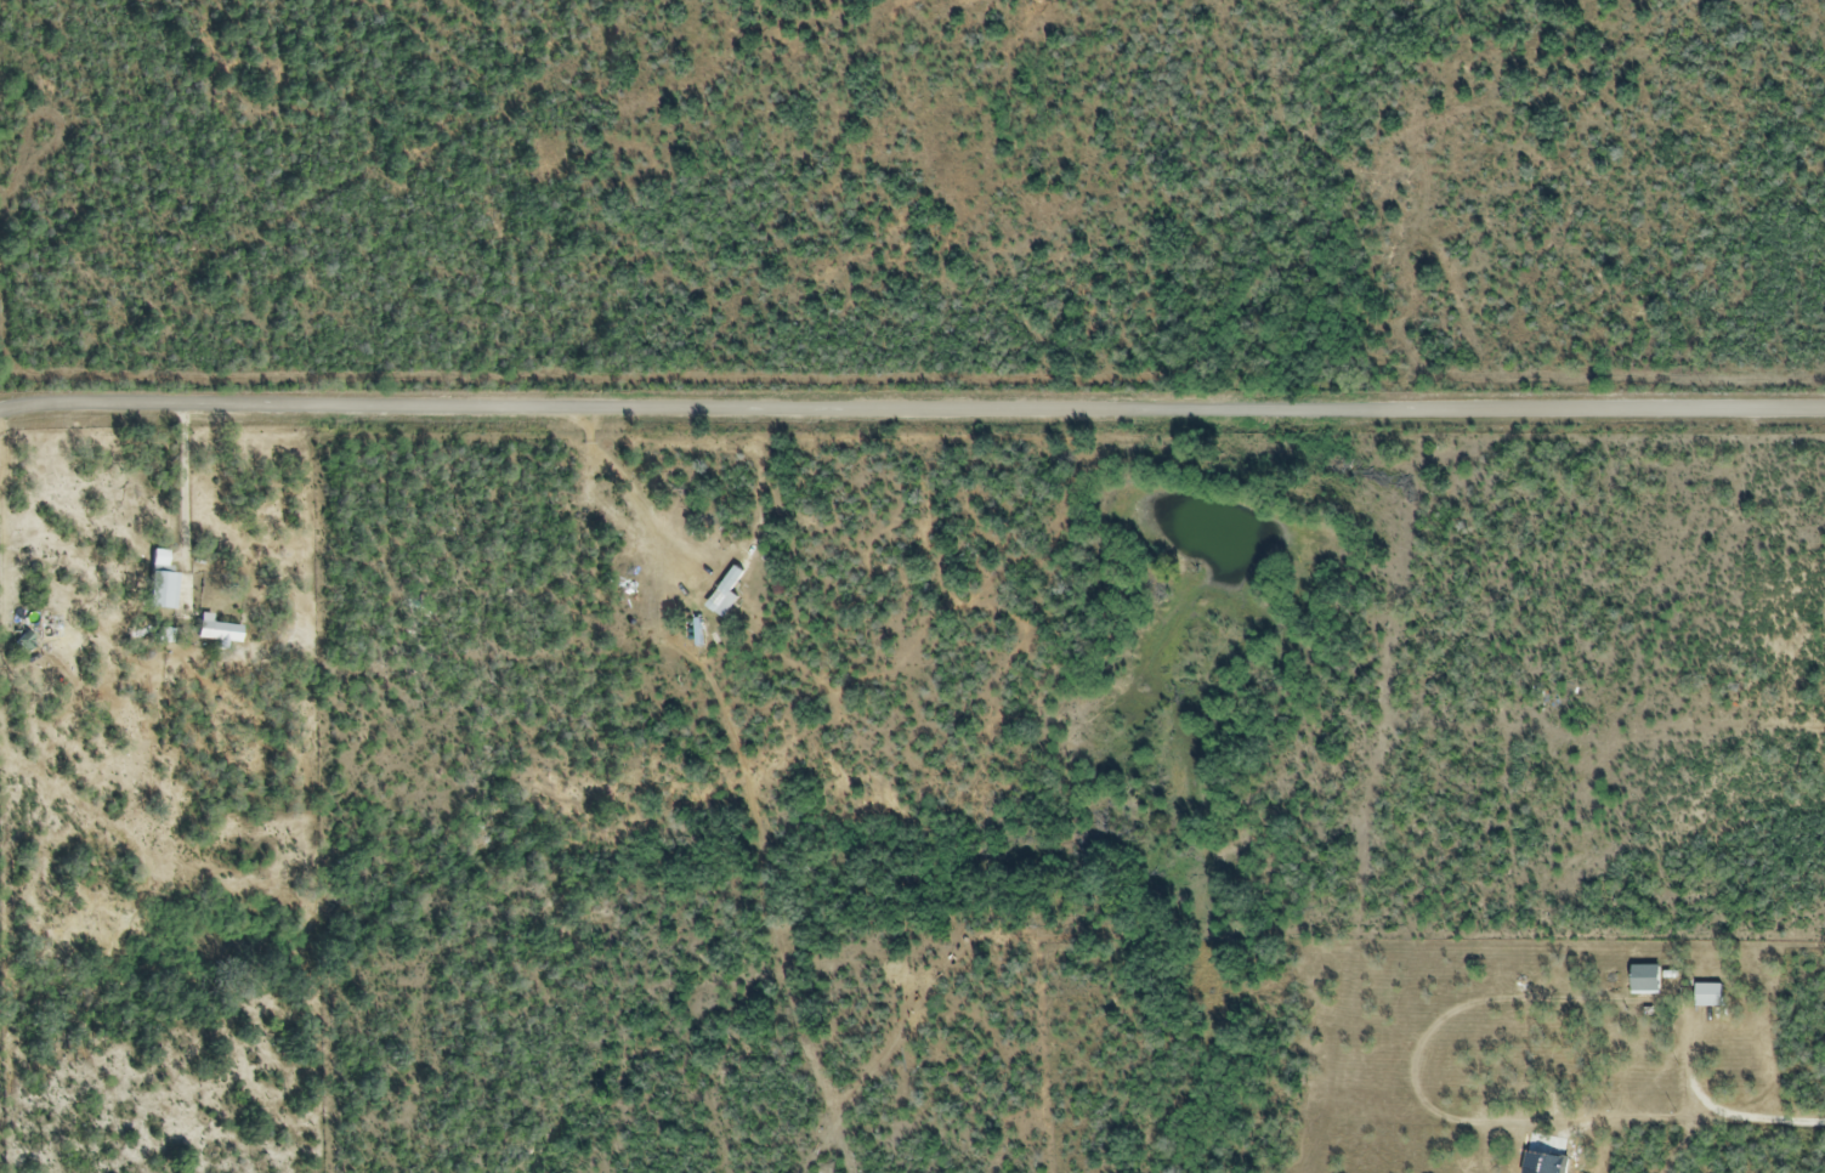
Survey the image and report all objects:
road: (912, 409)
road: (641, 497)
road: (183, 501)
building: (160, 583)
building: (215, 631)
building: (23, 644)
road: (4, 803)
building: (1644, 981)
building: (1706, 998)
road: (1719, 1113)
building: (1557, 1164)

